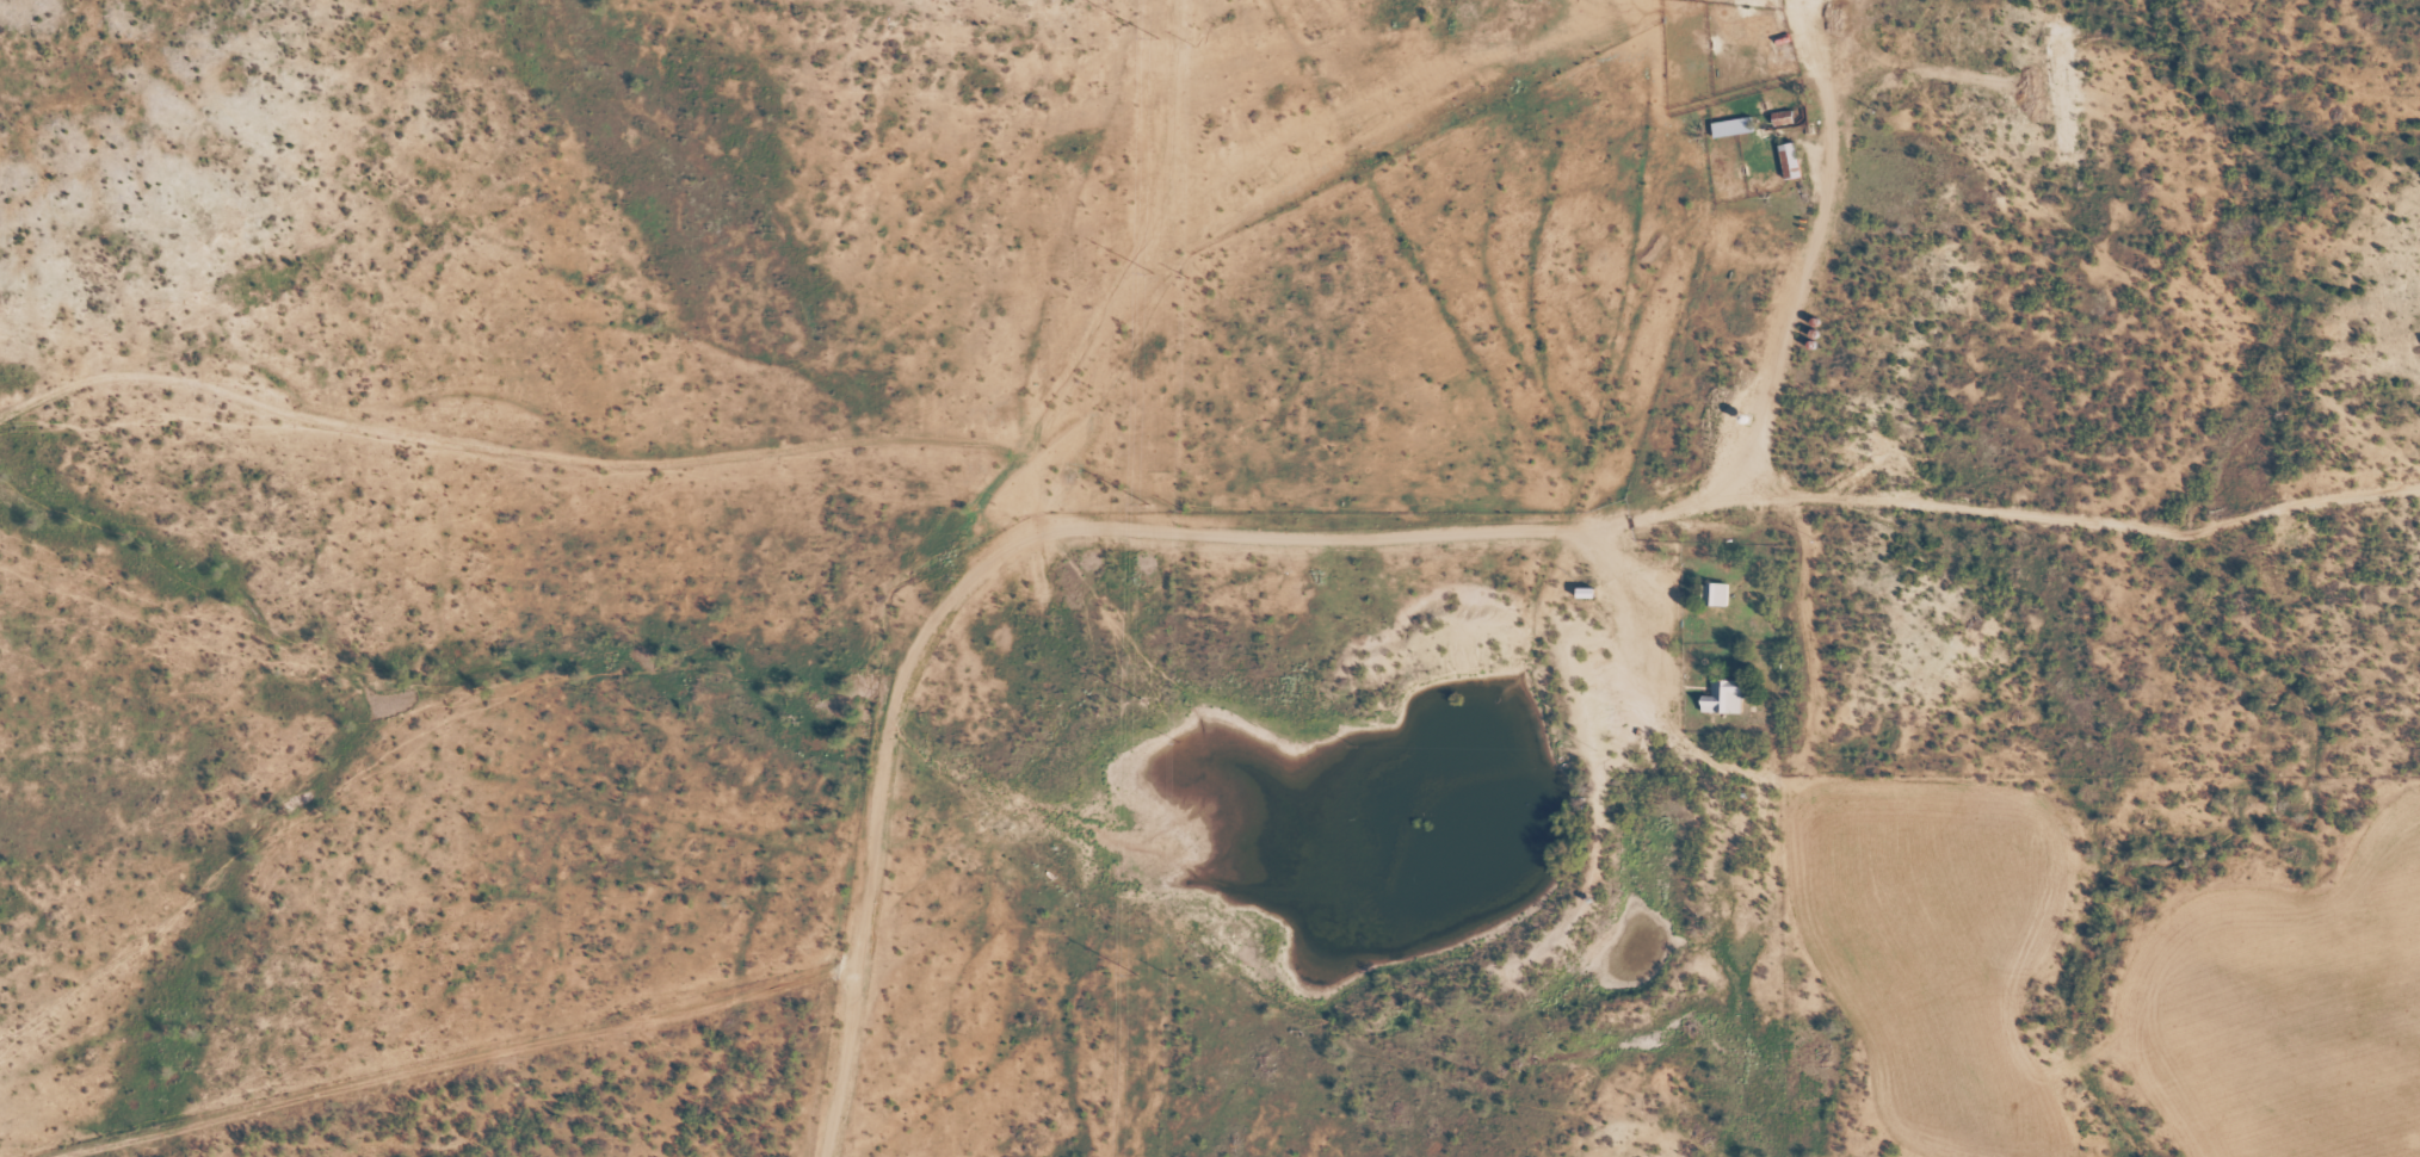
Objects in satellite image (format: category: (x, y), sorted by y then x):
road: (1789, 256)
road: (1183, 564)
building: (1716, 593)
road: (893, 841)

